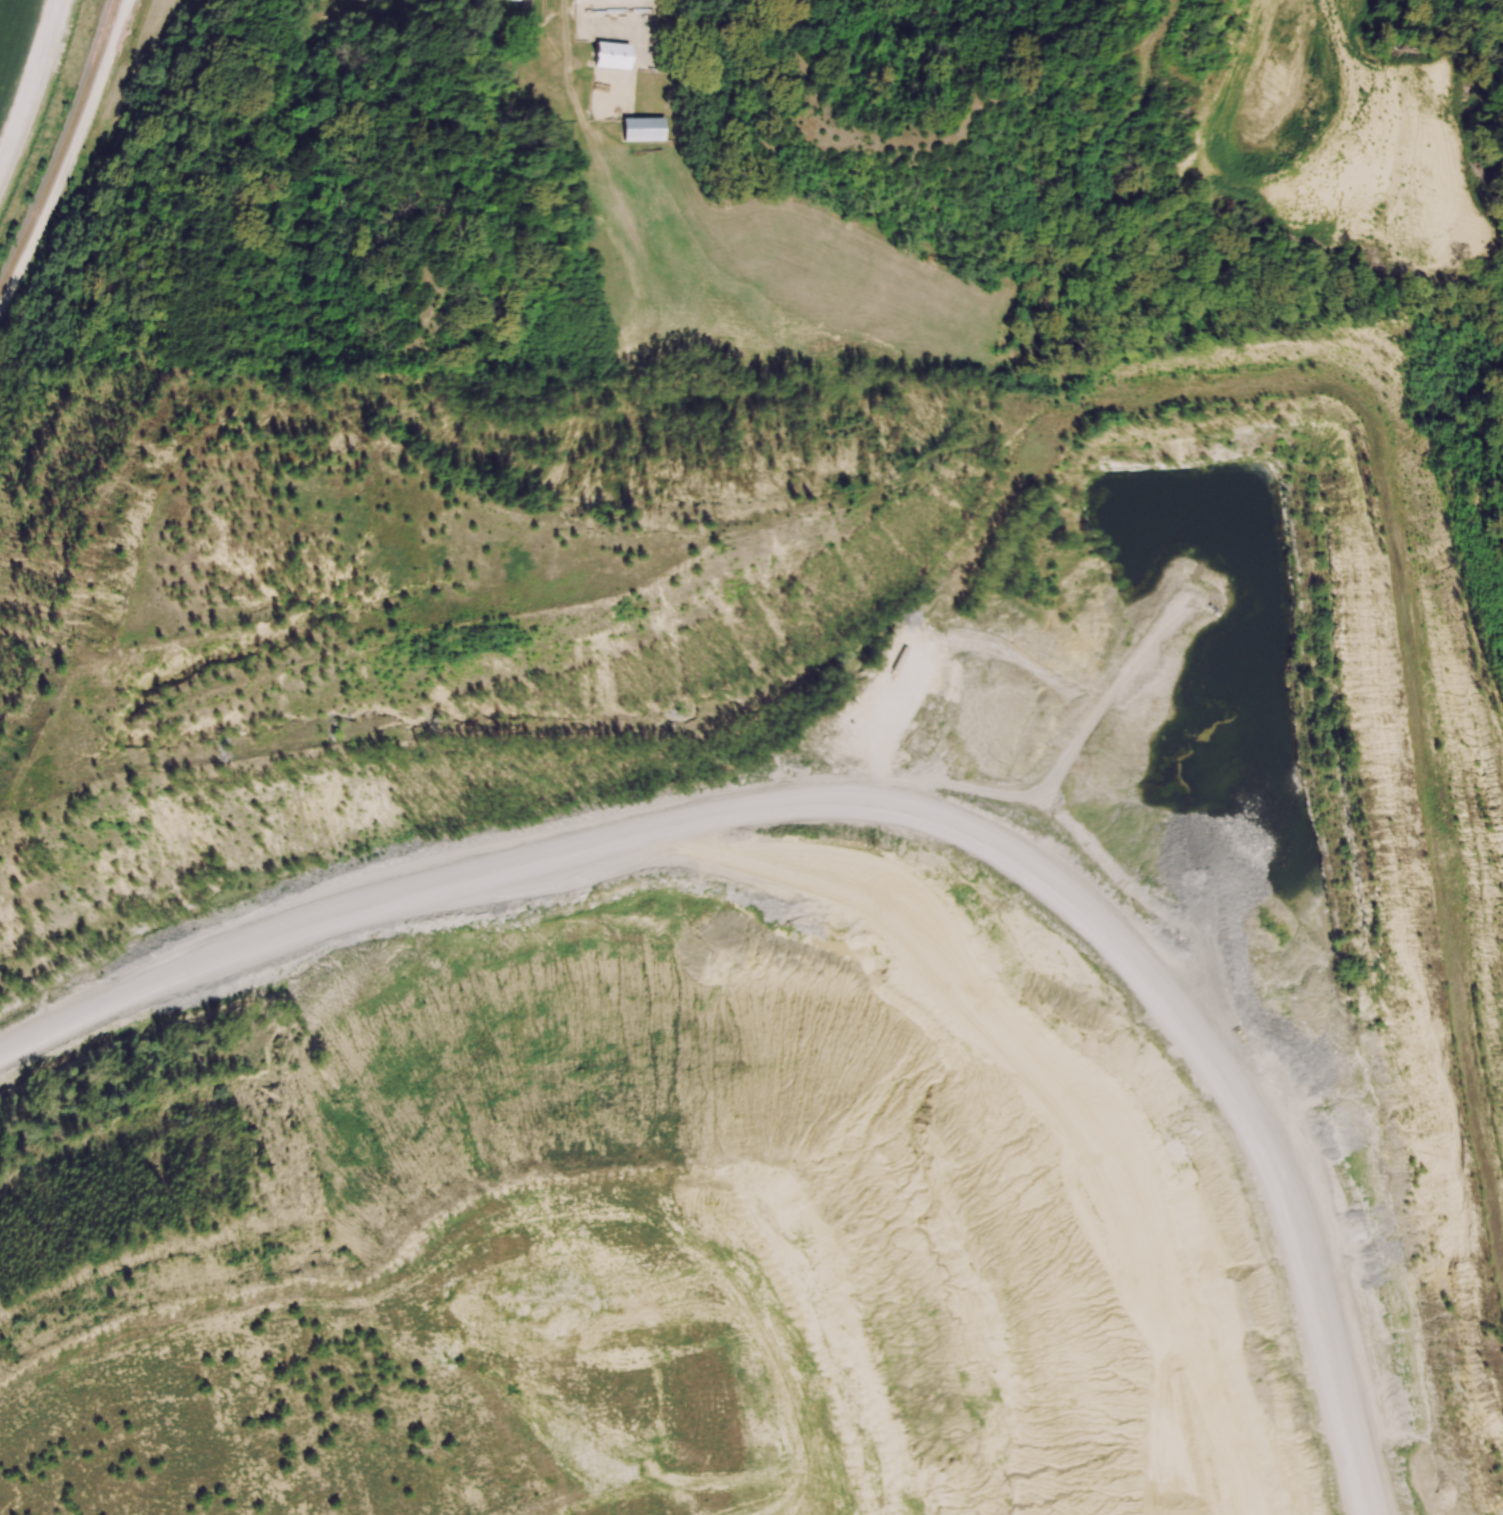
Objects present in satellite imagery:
building: (325, 0)
building: (516, 0)
building: (607, 55)
road: (32, 83)
building: (642, 129)
railway: (62, 148)
quarry: (848, 1069)

